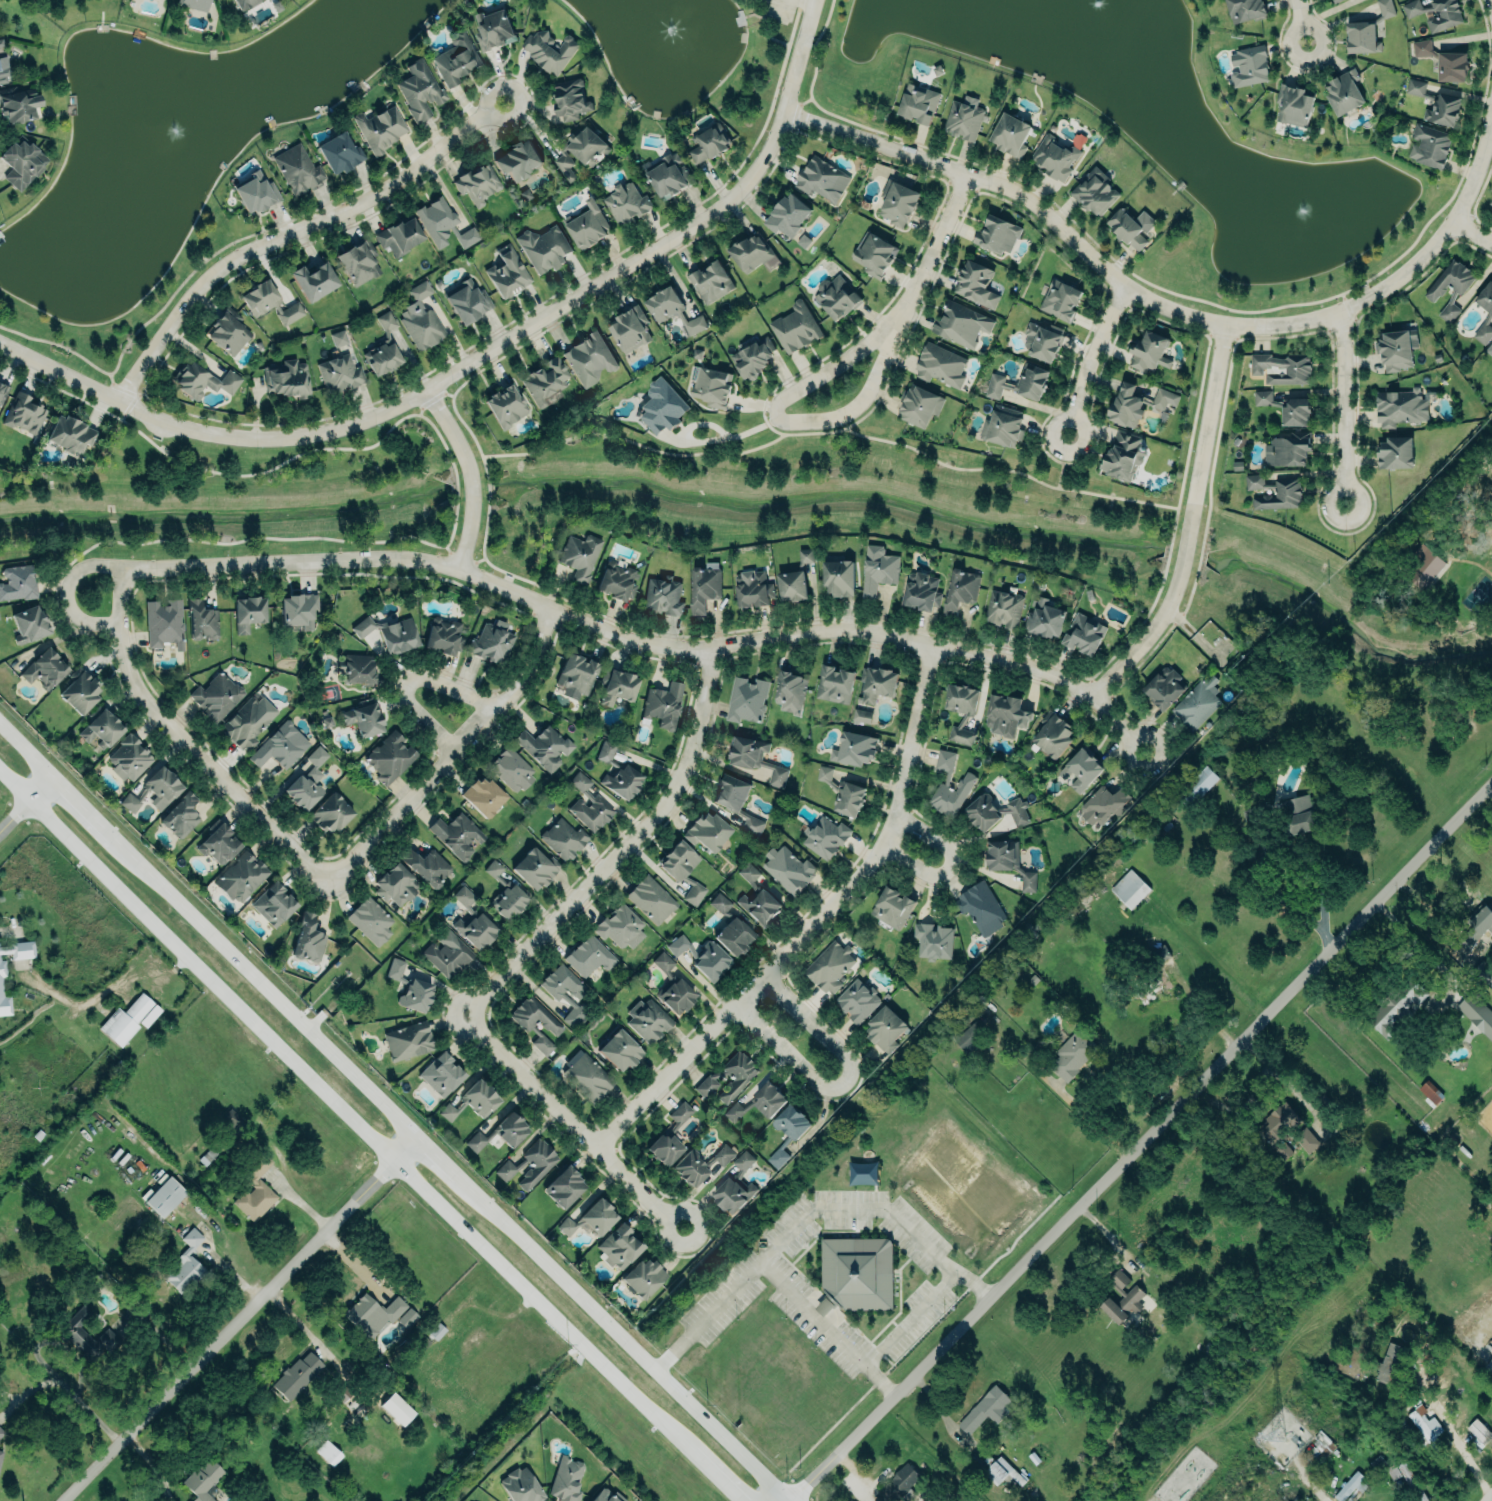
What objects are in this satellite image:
building: (1336, 1)
road: (1491, 1)
building: (195, 4)
building: (244, 4)
building: (1246, 10)
building: (1436, 13)
fountain: (662, 18)
road: (1301, 22)
building: (493, 29)
building: (1368, 30)
building: (1, 43)
building: (549, 50)
building: (455, 59)
building: (1445, 61)
building: (1248, 67)
building: (0, 68)
building: (3, 78)
building: (419, 89)
building: (1345, 92)
building: (571, 99)
building: (18, 103)
building: (918, 104)
building: (1437, 104)
building: (1296, 106)
building: (963, 118)
building: (381, 128)
building: (1010, 135)
building: (709, 144)
fountain: (187, 145)
building: (1429, 146)
building: (587, 147)
building: (340, 153)
building: (1058, 155)
building: (518, 160)
building: (21, 163)
building: (564, 165)
building: (297, 170)
building: (670, 177)
building: (823, 180)
building: (477, 183)
building: (1095, 192)
building: (257, 193)
building: (627, 202)
building: (897, 203)
building: (1491, 207)
building: (788, 216)
building: (444, 225)
building: (587, 225)
building: (1132, 227)
road: (296, 231)
road: (1472, 233)
building: (997, 235)
building: (400, 237)
building: (804, 241)
road: (933, 244)
building: (543, 248)
building: (751, 252)
building: (873, 255)
building: (357, 264)
building: (507, 272)
building: (313, 278)
building: (1450, 280)
building: (712, 282)
building: (977, 284)
building: (467, 298)
building: (837, 298)
building: (1485, 298)
building: (1061, 300)
building: (270, 303)
road: (1167, 308)
building: (1449, 310)
building: (672, 311)
building: (422, 320)
building: (961, 324)
building: (630, 329)
building: (796, 329)
building: (228, 332)
building: (1483, 334)
building: (338, 338)
building: (1044, 341)
building: (382, 347)
building: (1396, 349)
building: (1489, 349)
building: (1150, 353)
road: (479, 358)
building: (754, 358)
building: (590, 359)
road: (1094, 360)
building: (940, 366)
building: (1299, 371)
building: (339, 373)
building: (287, 379)
building: (202, 380)
building: (545, 380)
building: (1020, 385)
building: (714, 387)
building: (2, 392)
building: (506, 405)
building: (1138, 405)
building: (919, 406)
building: (661, 407)
building: (1400, 407)
building: (1288, 408)
road: (1342, 408)
building: (24, 413)
road: (785, 416)
road: (699, 423)
building: (1003, 427)
building: (70, 433)
building: (1290, 450)
building: (1396, 453)
building: (1123, 455)
road: (470, 475)
building: (1276, 492)
road: (1189, 525)
building: (580, 556)
building: (805, 556)
building: (878, 570)
building: (838, 578)
building: (617, 580)
building: (18, 583)
building: (791, 586)
building: (705, 588)
building: (753, 589)
building: (962, 590)
building: (922, 592)
building: (662, 596)
building: (1004, 609)
building: (299, 611)
building: (248, 613)
road: (577, 618)
building: (1045, 619)
building: (202, 620)
building: (164, 623)
building: (29, 624)
building: (390, 634)
building: (1085, 634)
building: (444, 636)
building: (491, 644)
building: (44, 669)
building: (358, 669)
building: (577, 676)
road: (413, 681)
building: (835, 684)
building: (879, 684)
building: (1164, 687)
building: (619, 688)
building: (79, 691)
building: (791, 693)
building: (217, 694)
building: (748, 700)
building: (1197, 702)
building: (663, 705)
building: (962, 711)
building: (862, 715)
building: (1007, 715)
building: (362, 718)
building: (248, 722)
building: (101, 728)
building: (1053, 735)
road: (187, 742)
building: (279, 744)
building: (545, 745)
building: (855, 749)
road: (455, 754)
building: (130, 756)
building: (391, 756)
building: (756, 759)
building: (511, 770)
building: (1084, 770)
building: (618, 771)
building: (824, 773)
building: (307, 780)
building: (951, 786)
building: (1197, 787)
building: (155, 790)
road: (1486, 790)
building: (483, 795)
building: (848, 799)
building: (738, 800)
building: (590, 803)
building: (1102, 805)
road: (27, 808)
building: (995, 812)
building: (330, 813)
building: (181, 815)
building: (1253, 815)
building: (1298, 815)
building: (707, 829)
building: (456, 834)
building: (827, 836)
building: (562, 838)
building: (219, 842)
road: (626, 849)
building: (428, 865)
building: (535, 865)
road: (952, 865)
building: (681, 869)
building: (788, 869)
building: (242, 875)
road: (1448, 876)
building: (395, 884)
building: (1130, 889)
building: (506, 891)
building: (758, 896)
building: (650, 899)
road: (1322, 900)
building: (274, 902)
building: (719, 903)
road: (1423, 905)
building: (892, 908)
building: (980, 908)
building: (473, 919)
building: (372, 920)
road: (816, 921)
building: (1478, 925)
building: (620, 927)
building: (733, 936)
building: (309, 937)
building: (933, 941)
building: (677, 944)
road: (1421, 947)
building: (1159, 952)
building: (447, 953)
building: (589, 956)
building: (662, 962)
building: (711, 962)
building: (829, 967)
building: (1483, 974)
building: (1, 985)
building: (411, 986)
building: (557, 994)
building: (676, 996)
building: (857, 1001)
building: (1396, 1009)
building: (1477, 1014)
building: (129, 1019)
building: (536, 1020)
building: (647, 1020)
building: (887, 1028)
building: (970, 1036)
building: (408, 1040)
building: (620, 1048)
building: (1072, 1055)
road: (1272, 1068)
building: (442, 1072)
building: (586, 1076)
building: (740, 1080)
road: (847, 1085)
building: (1430, 1093)
building: (474, 1099)
building: (761, 1102)
road: (388, 1118)
road: (577, 1122)
road: (1089, 1123)
building: (1278, 1123)
building: (789, 1130)
building: (500, 1132)
road: (369, 1135)
building: (670, 1135)
road: (1142, 1136)
building: (1308, 1142)
building: (1283, 1150)
building: (721, 1154)
building: (536, 1162)
building: (690, 1168)
building: (505, 1170)
building: (564, 1185)
building: (736, 1186)
building: (255, 1189)
building: (164, 1196)
building: (591, 1217)
road: (804, 1217)
road: (1108, 1238)
building: (620, 1244)
building: (187, 1263)
building: (857, 1273)
building: (644, 1275)
building: (1122, 1299)
building: (370, 1313)
building: (406, 1317)
road: (238, 1321)
building: (86, 1334)
road: (39, 1356)
road: (860, 1361)
road: (79, 1362)
building: (1490, 1362)
building: (1390, 1363)
building: (297, 1375)
road: (880, 1381)
road: (27, 1390)
road: (6, 1396)
building: (397, 1408)
road: (940, 1409)
building: (986, 1409)
road: (93, 1412)
building: (1426, 1426)
building: (1, 1431)
building: (1478, 1432)
building: (1318, 1449)
road: (1461, 1450)
building: (328, 1452)
building: (0, 1456)
building: (1001, 1471)
building: (567, 1478)
building: (204, 1479)
building: (903, 1479)
building: (521, 1485)
building: (1349, 1485)
building: (608, 1495)
road: (1488, 1496)

